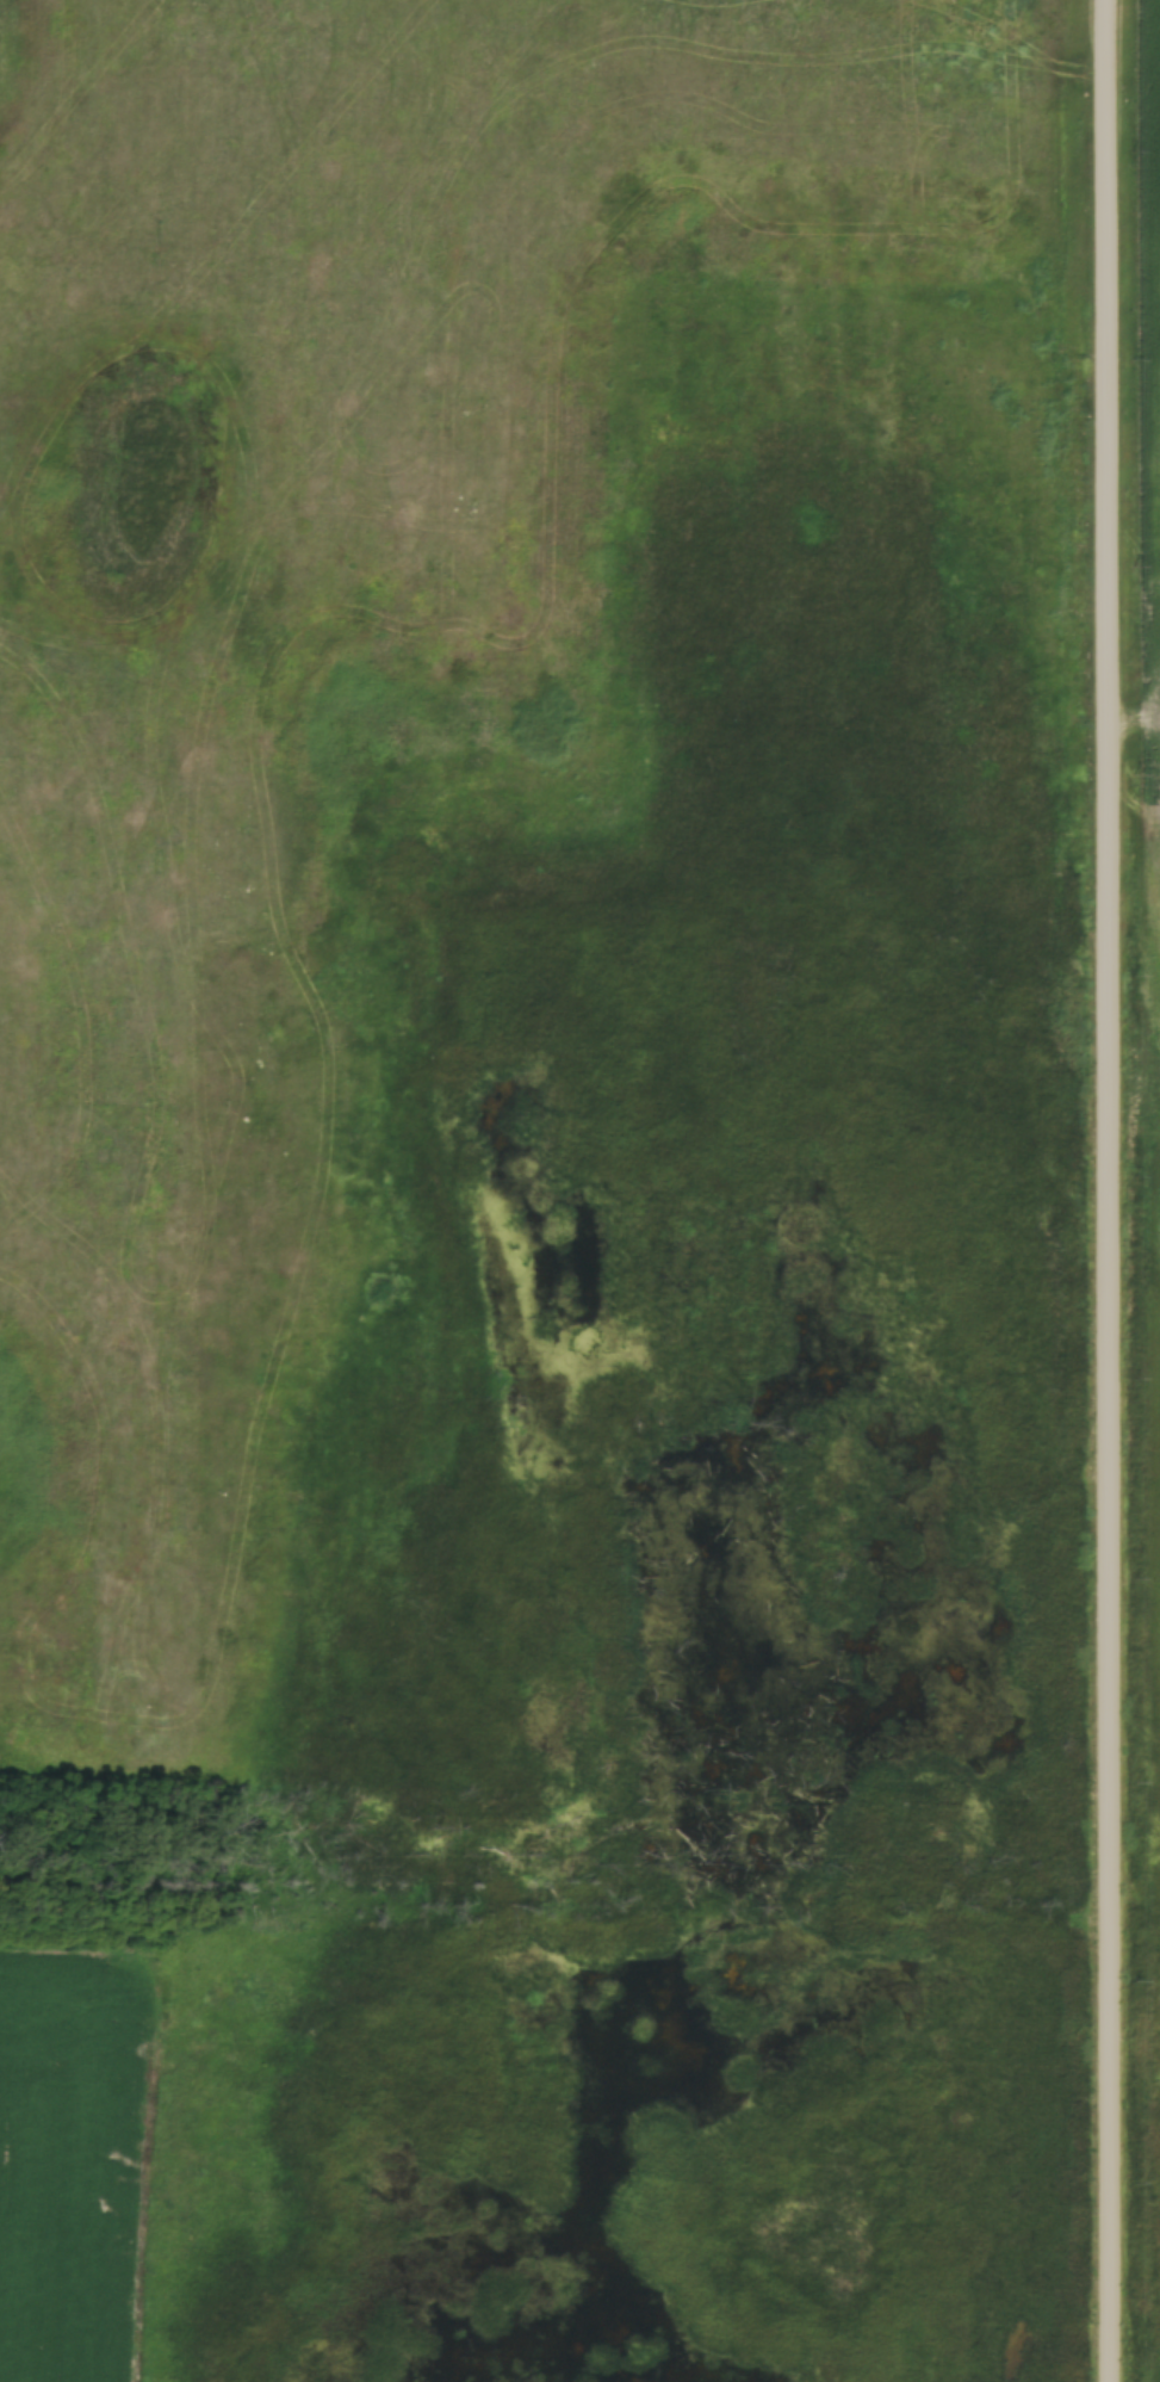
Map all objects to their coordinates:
road: (1104, 1190)

